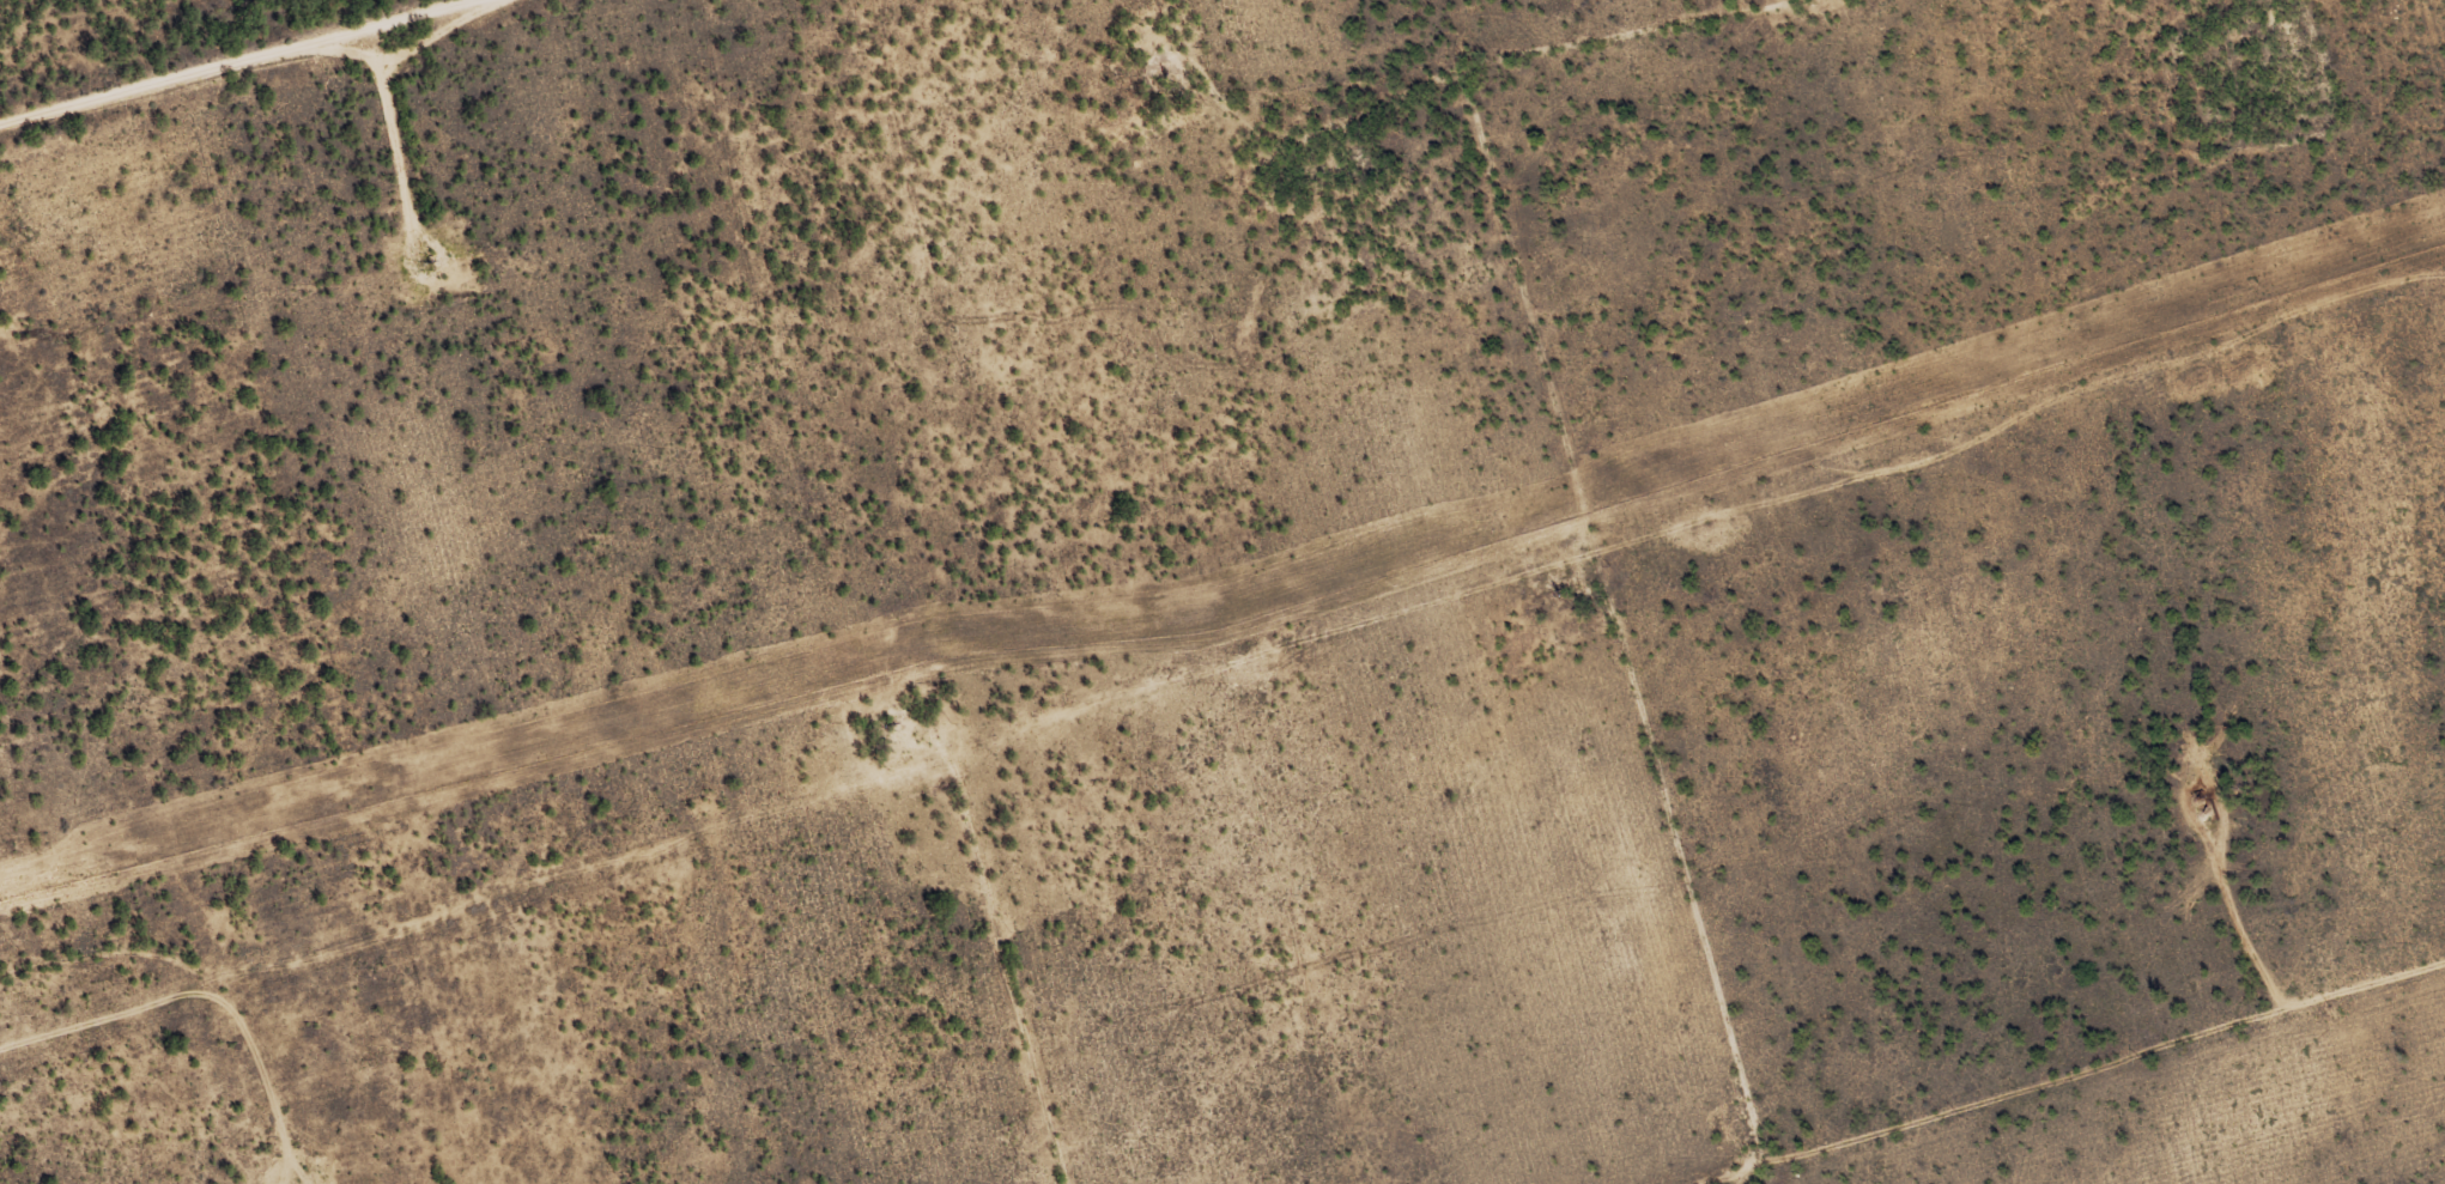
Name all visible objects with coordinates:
road: (2282, 1003)

